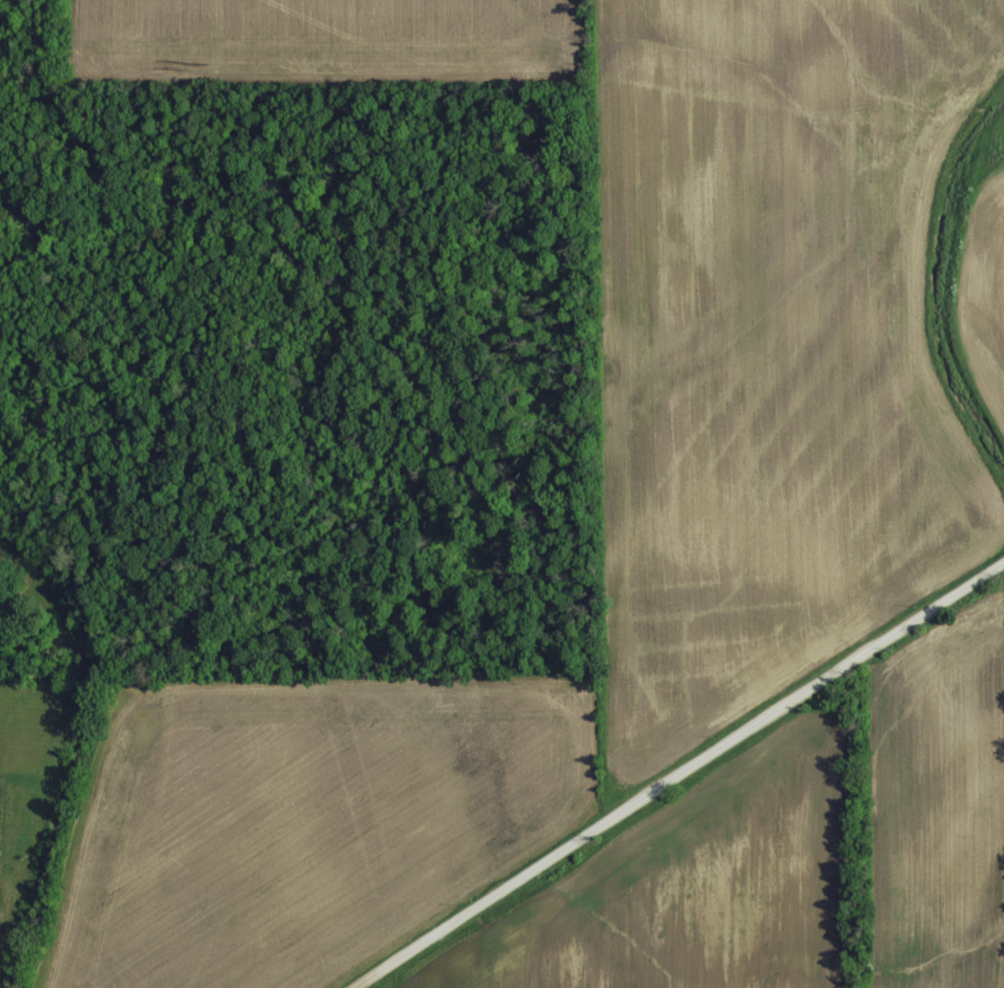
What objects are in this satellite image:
road: (675, 771)

